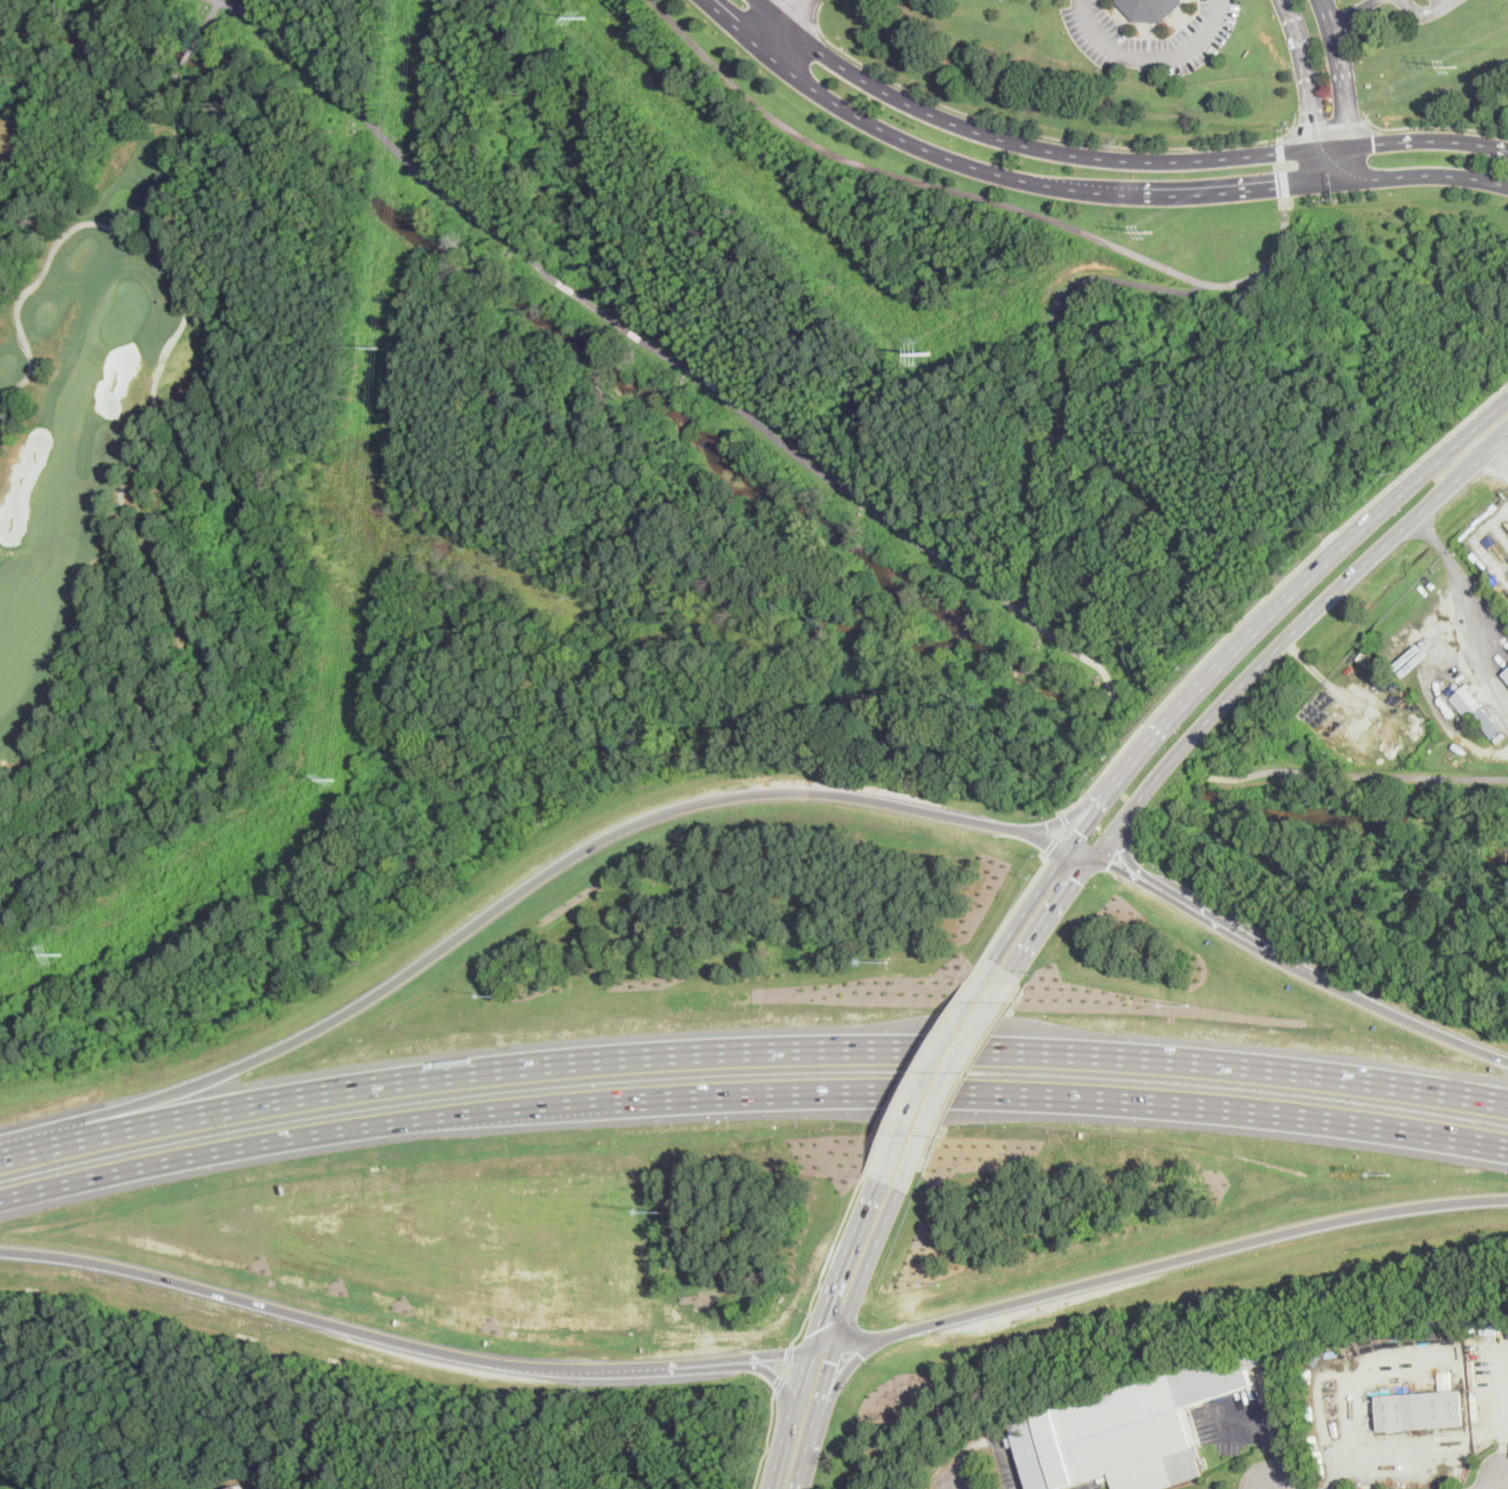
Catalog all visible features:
parking lot: (1423, 7)
building: (1151, 9)
road: (1351, 10)
road: (1423, 12)
road: (799, 14)
power tower: (583, 18)
road: (789, 27)
parking lot: (1150, 42)
road: (1150, 56)
power tower: (1456, 66)
road: (1342, 71)
road: (1306, 72)
road: (850, 113)
traffic signals: (1314, 121)
road: (1295, 123)
road: (1331, 125)
road: (1431, 126)
road: (1022, 130)
road: (1286, 133)
road: (388, 140)
road: (1000, 140)
road: (1394, 140)
traffic signals: (1374, 143)
road: (1350, 164)
road: (1282, 167)
road: (1324, 167)
road: (1424, 174)
traffic signals: (1278, 187)
road: (975, 195)
road: (1179, 197)
power tower: (1153, 232)
road: (565, 286)
road: (1059, 296)
road: (601, 311)
road: (634, 335)
power tower: (381, 347)
road: (173, 350)
power tower: (931, 352)
road: (673, 358)
road: (711, 383)
park: (93, 405)
road: (1495, 410)
road: (1049, 438)
road: (1498, 462)
road: (1468, 469)
road: (1037, 475)
road: (1046, 518)
road: (896, 524)
road: (1041, 571)
road: (1275, 587)
road: (1295, 594)
road: (1469, 594)
building: (1363, 654)
road: (1317, 670)
road: (1252, 672)
road: (1106, 675)
building: (1506, 675)
building: (1475, 709)
road: (1355, 774)
power tower: (334, 779)
road: (1095, 813)
road: (1070, 815)
road: (1064, 817)
road: (1063, 830)
traffic signals: (1082, 833)
road: (1050, 845)
traffic signals: (1125, 846)
traffic signals: (1108, 864)
road: (1145, 872)
traffic signals: (1077, 880)
road: (529, 883)
road: (1030, 903)
road: (1015, 905)
road: (1053, 914)
power tower: (62, 953)
road: (1296, 965)
road: (751, 1050)
road: (920, 1067)
road: (931, 1067)
road: (952, 1078)
road: (751, 1093)
road: (826, 1261)
road: (1156, 1265)
traffic signals: (817, 1330)
road: (816, 1331)
road: (839, 1336)
road: (400, 1343)
road: (791, 1353)
traffic signals: (786, 1356)
traffic signals: (832, 1362)
road: (847, 1366)
road: (787, 1369)
road: (772, 1374)
road: (781, 1385)
building: (1423, 1408)
building: (1129, 1429)
road: (1273, 1440)
road: (768, 1441)
road: (1406, 1452)
building: (1102, 1478)
road: (1502, 1484)
building: (238, 1487)

